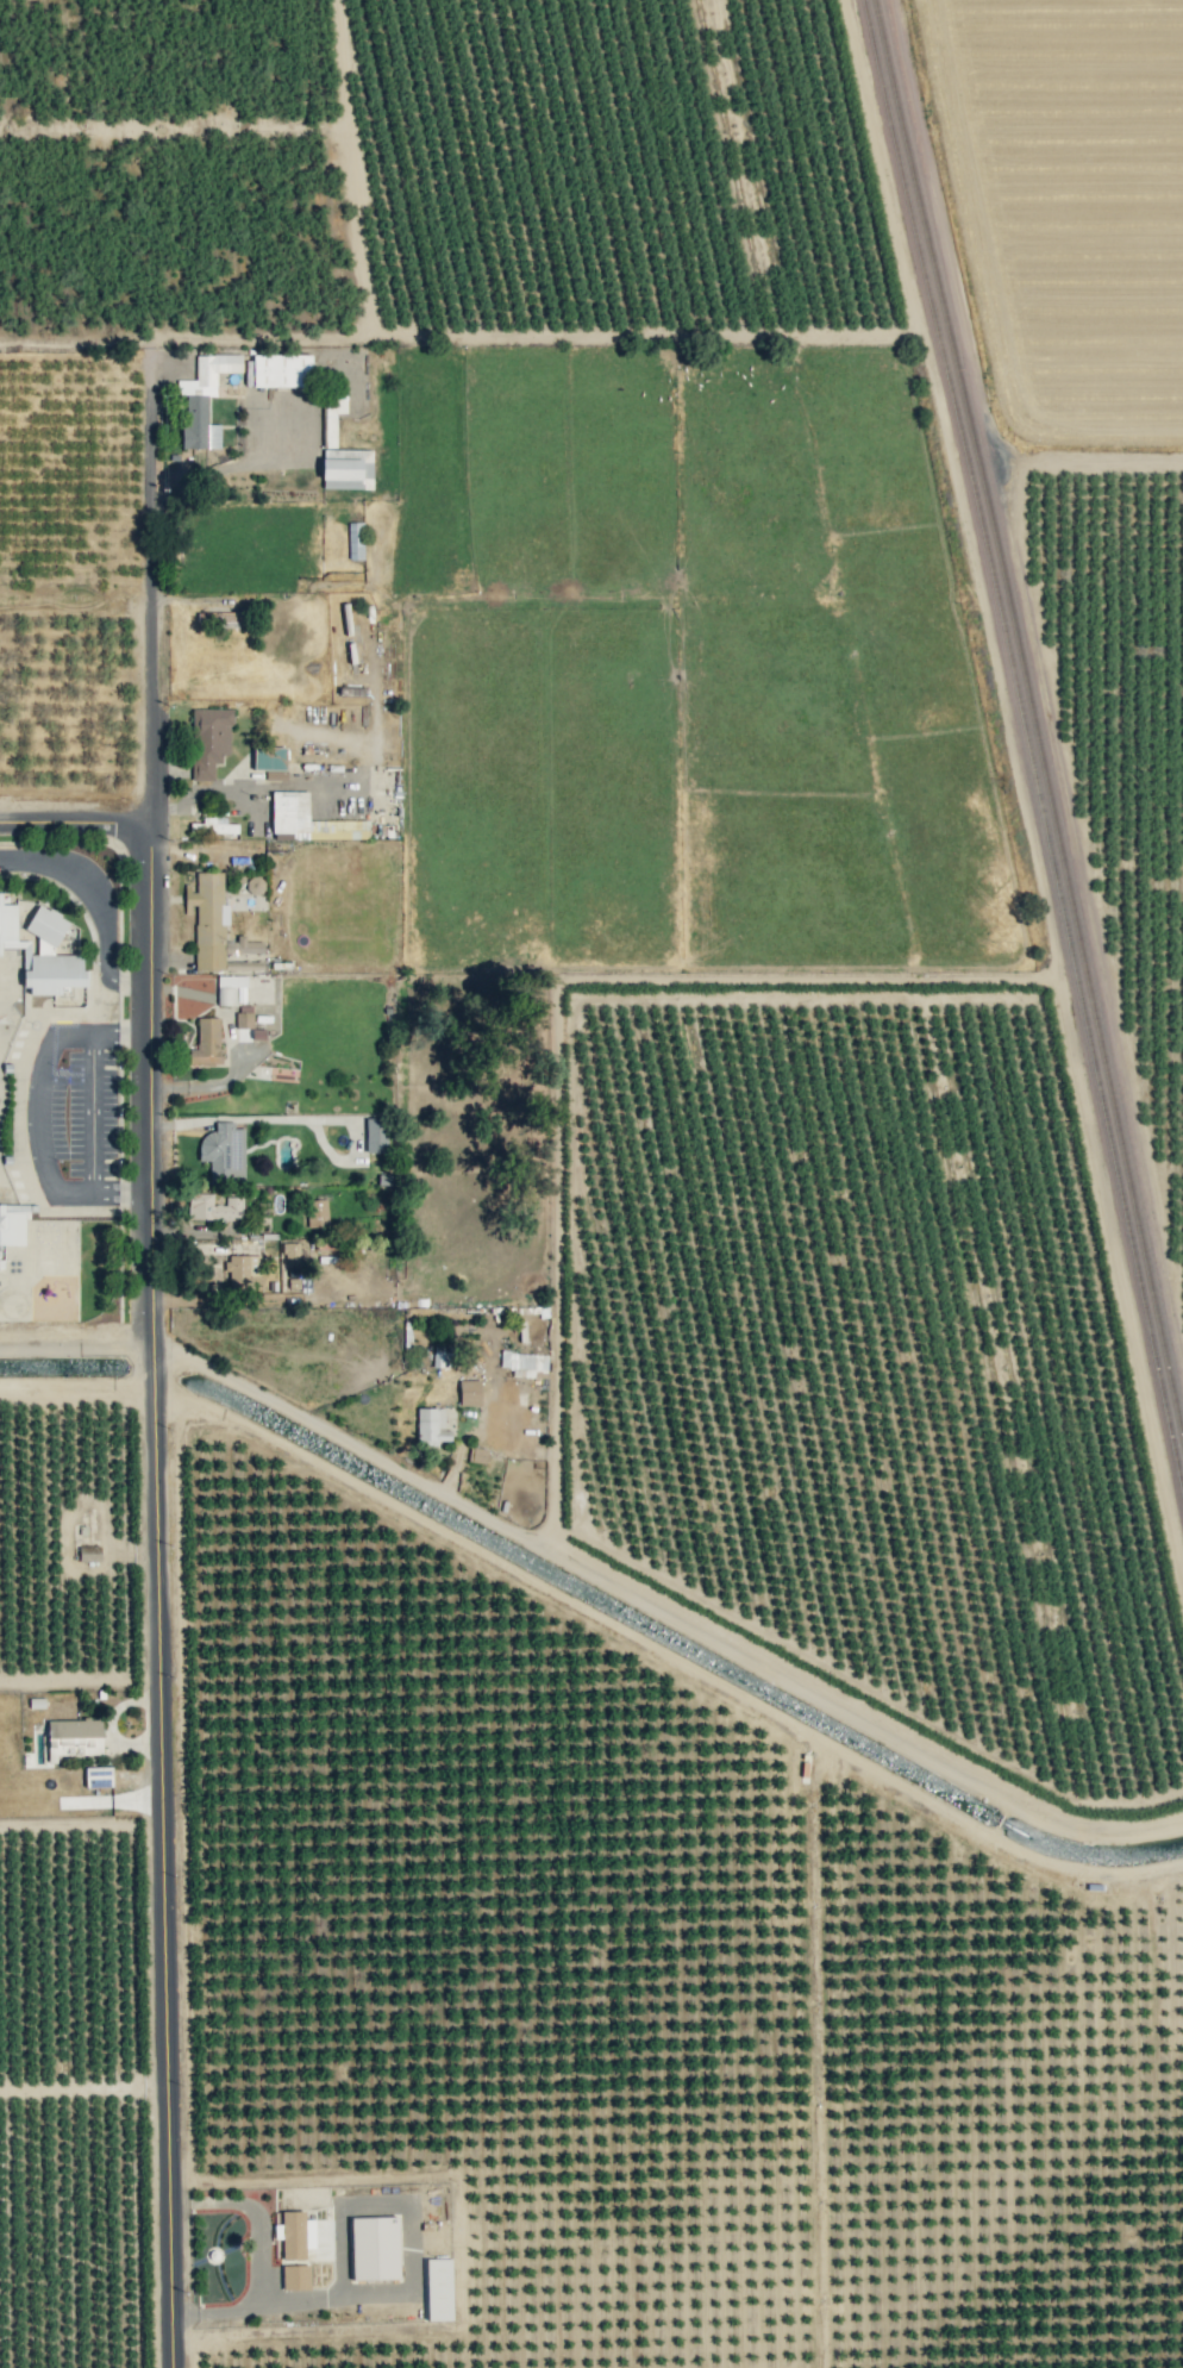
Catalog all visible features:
building: (281, 370)
building: (204, 399)
building: (333, 414)
building: (346, 468)
building: (355, 541)
building: (227, 617)
railway: (1033, 718)
building: (209, 741)
railway: (1027, 745)
building: (270, 761)
road: (250, 787)
road: (74, 811)
building: (308, 820)
building: (213, 825)
road: (95, 901)
building: (214, 924)
building: (39, 944)
building: (229, 988)
building: (244, 1016)
building: (206, 1043)
road: (37, 1112)
road: (93, 1112)
road: (246, 1118)
building: (376, 1135)
building: (224, 1151)
building: (214, 1207)
building: (317, 1212)
building: (13, 1220)
building: (292, 1262)
building: (244, 1272)
road: (77, 1332)
building: (524, 1362)
road: (157, 1369)
building: (469, 1392)
road: (309, 1423)
building: (431, 1426)
building: (476, 1454)
building: (89, 1552)
building: (74, 1737)
building: (98, 1776)
building: (295, 2233)
building: (375, 2248)
building: (295, 2276)
building: (438, 2289)

